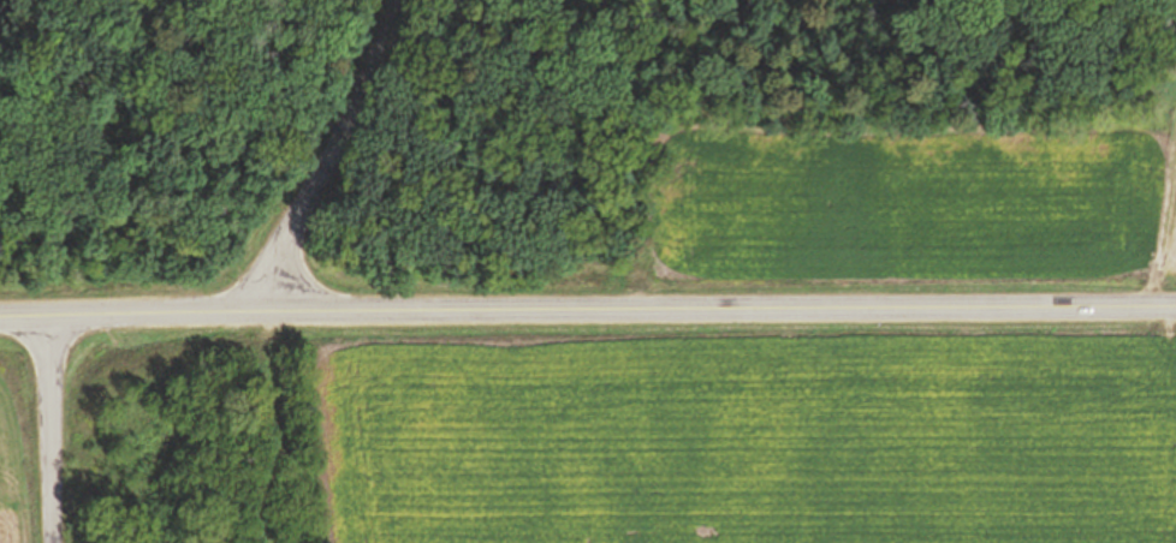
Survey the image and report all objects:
road: (326, 157)
road: (587, 310)
road: (54, 432)

